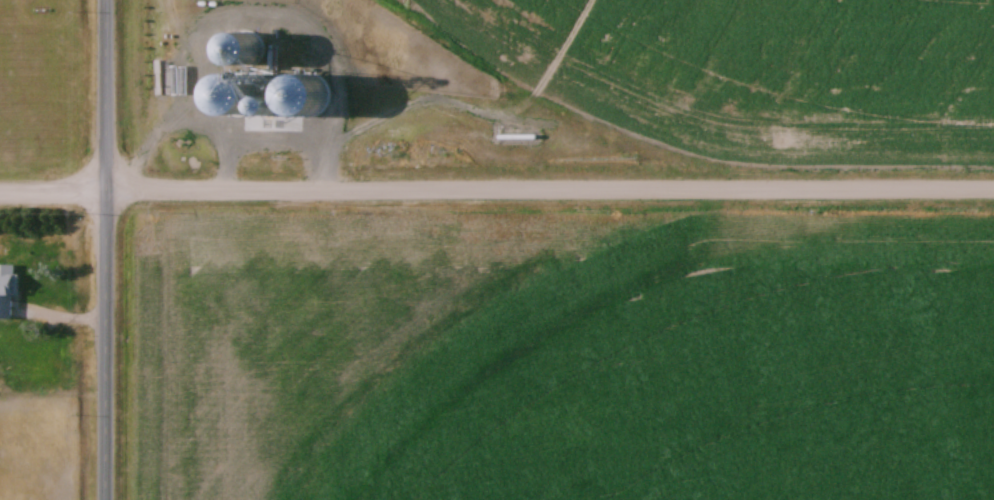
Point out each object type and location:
road: (55, 186)
road: (552, 186)
road: (109, 250)
building: (10, 291)

